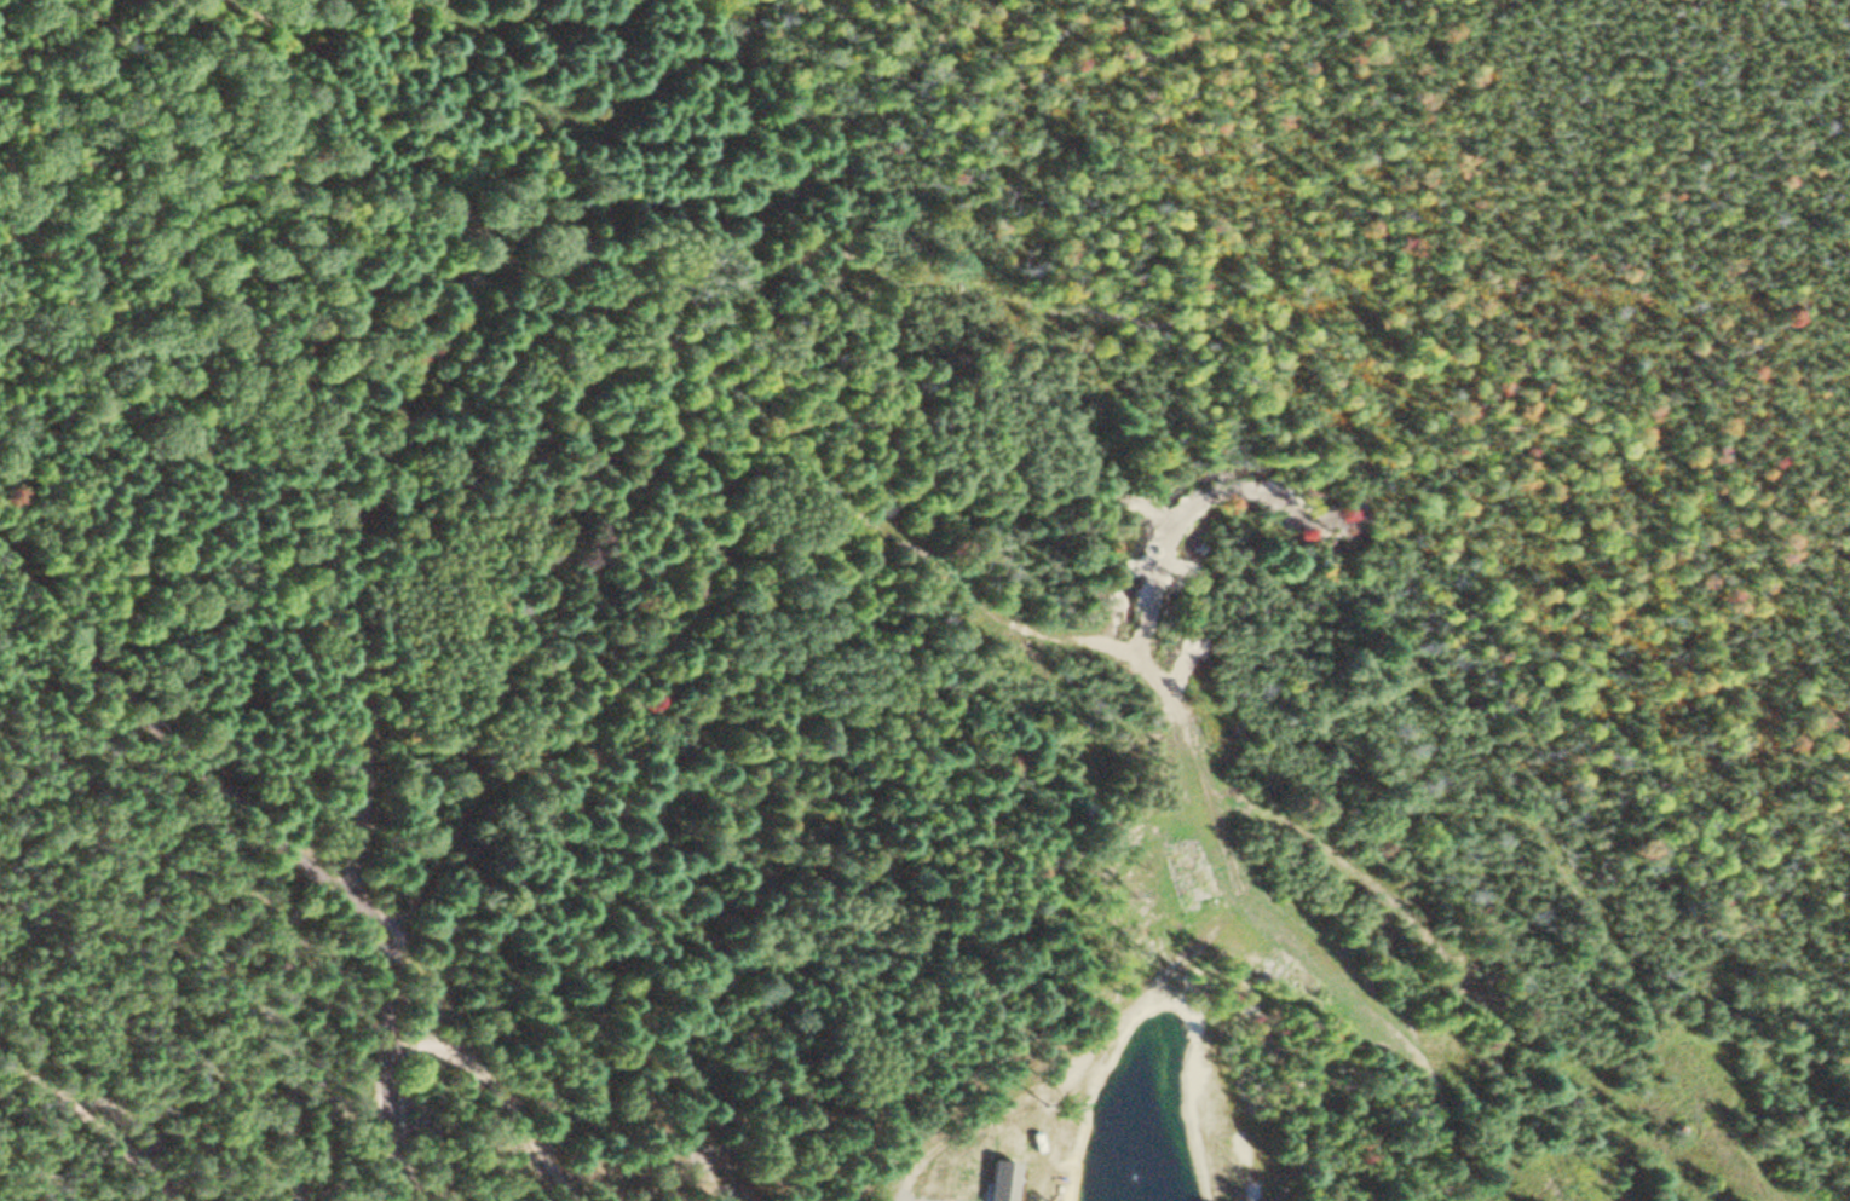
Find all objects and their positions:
road: (388, 939)
road: (88, 1126)

